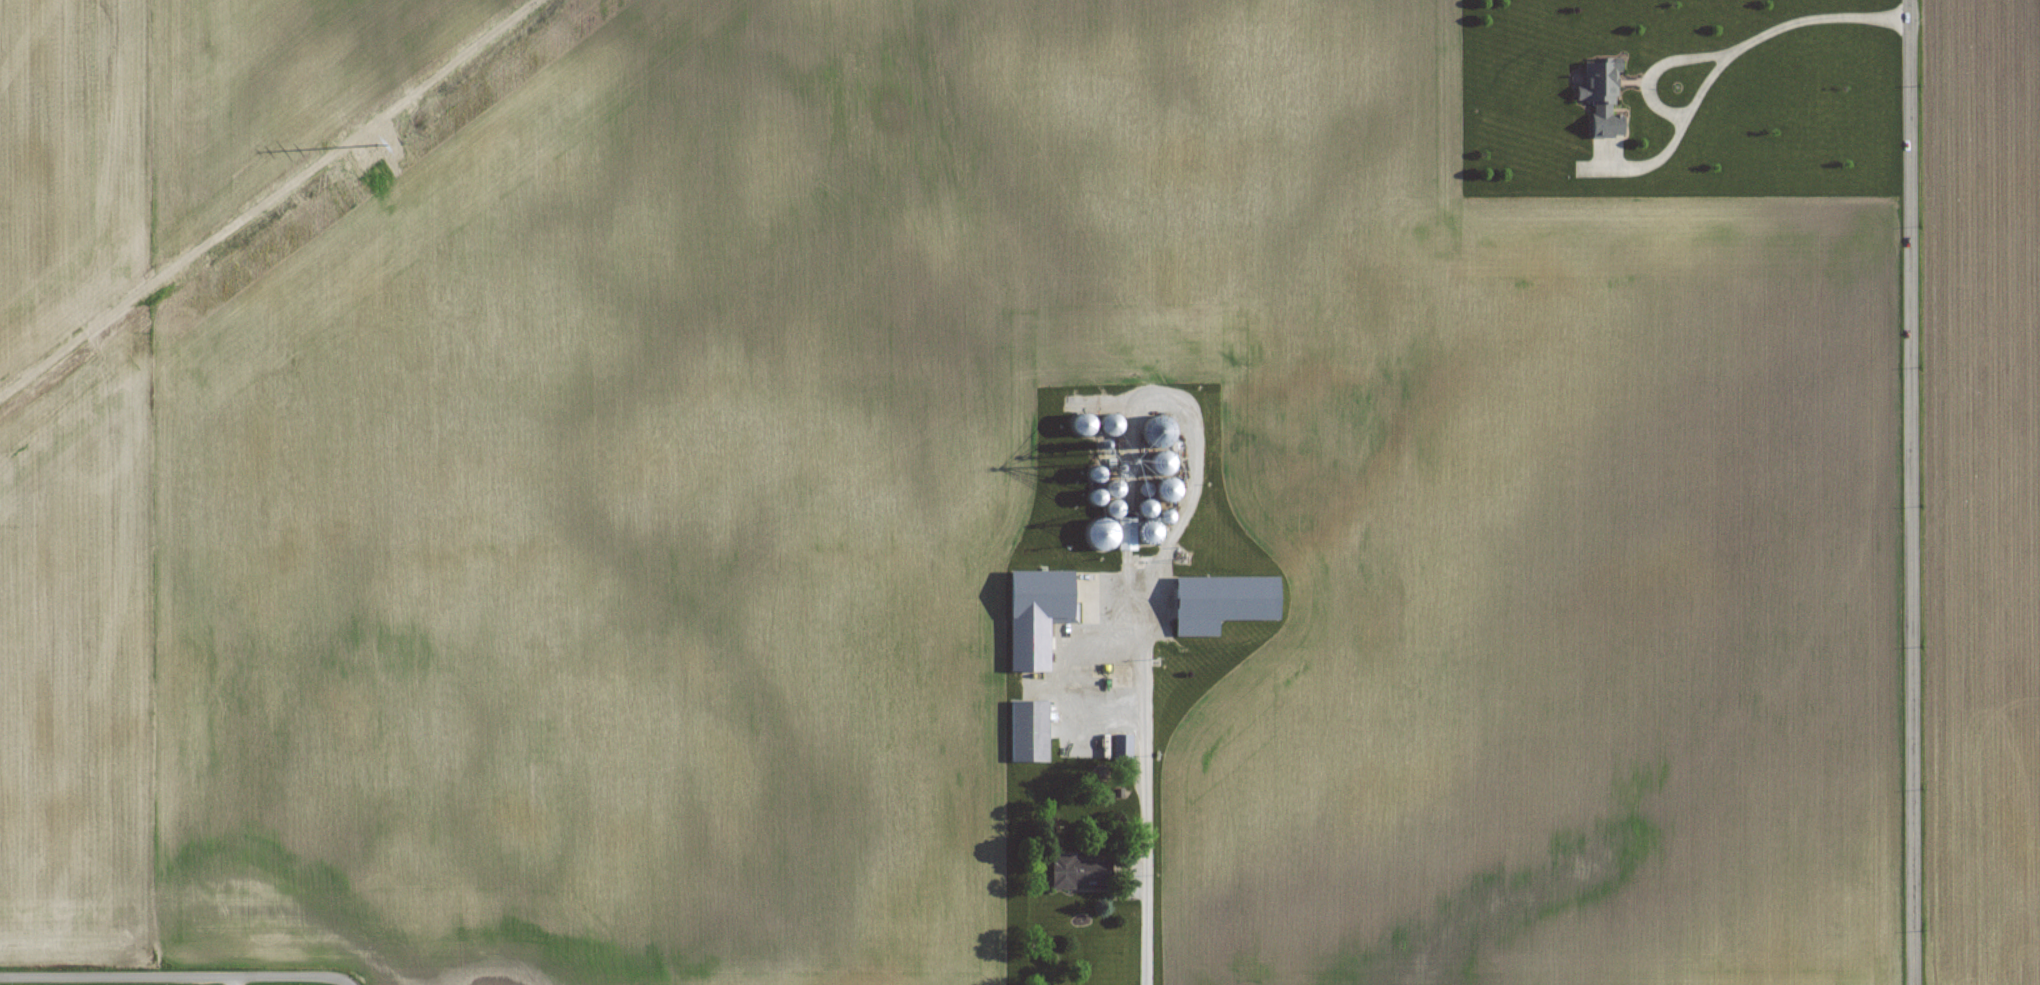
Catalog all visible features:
road: (1728, 55)
road: (1656, 66)
building: (1602, 99)
power tower: (375, 181)
building: (1084, 423)
building: (1111, 423)
building: (1156, 431)
building: (1162, 463)
building: (1097, 473)
building: (1115, 488)
building: (1169, 489)
road: (1911, 492)
building: (1043, 594)
building: (1224, 601)
building: (1112, 691)
building: (1030, 731)
building: (1123, 747)
road: (1143, 785)
building: (1081, 871)
road: (175, 976)
road: (234, 980)

